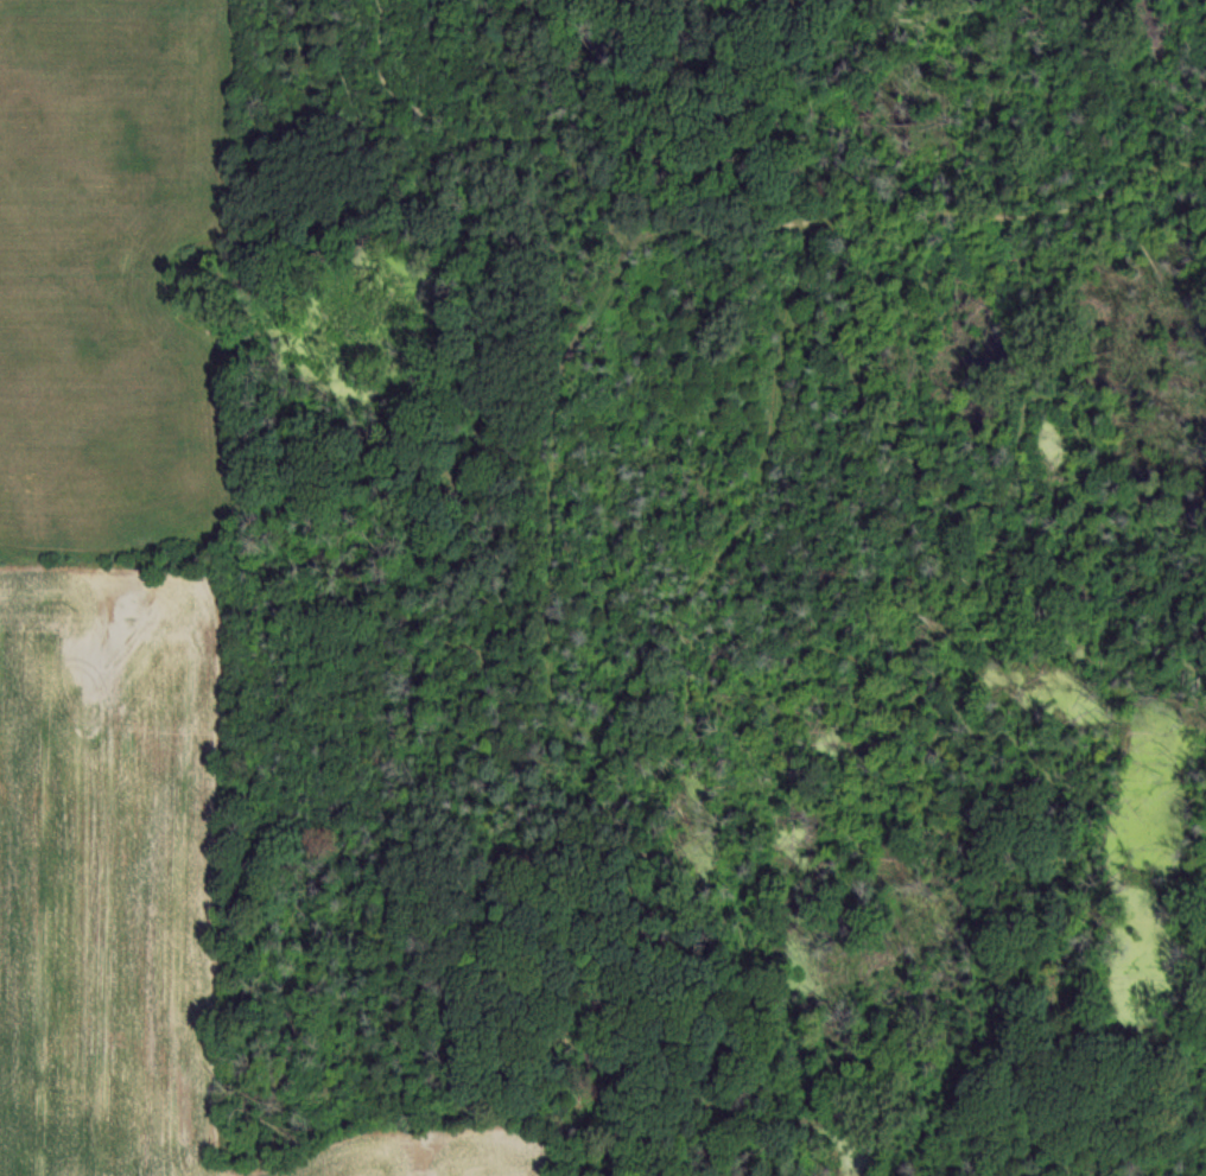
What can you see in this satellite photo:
road: (300, 259)
road: (845, 396)
park: (710, 579)
road: (697, 1034)
road: (1195, 1157)
road: (1079, 1161)

